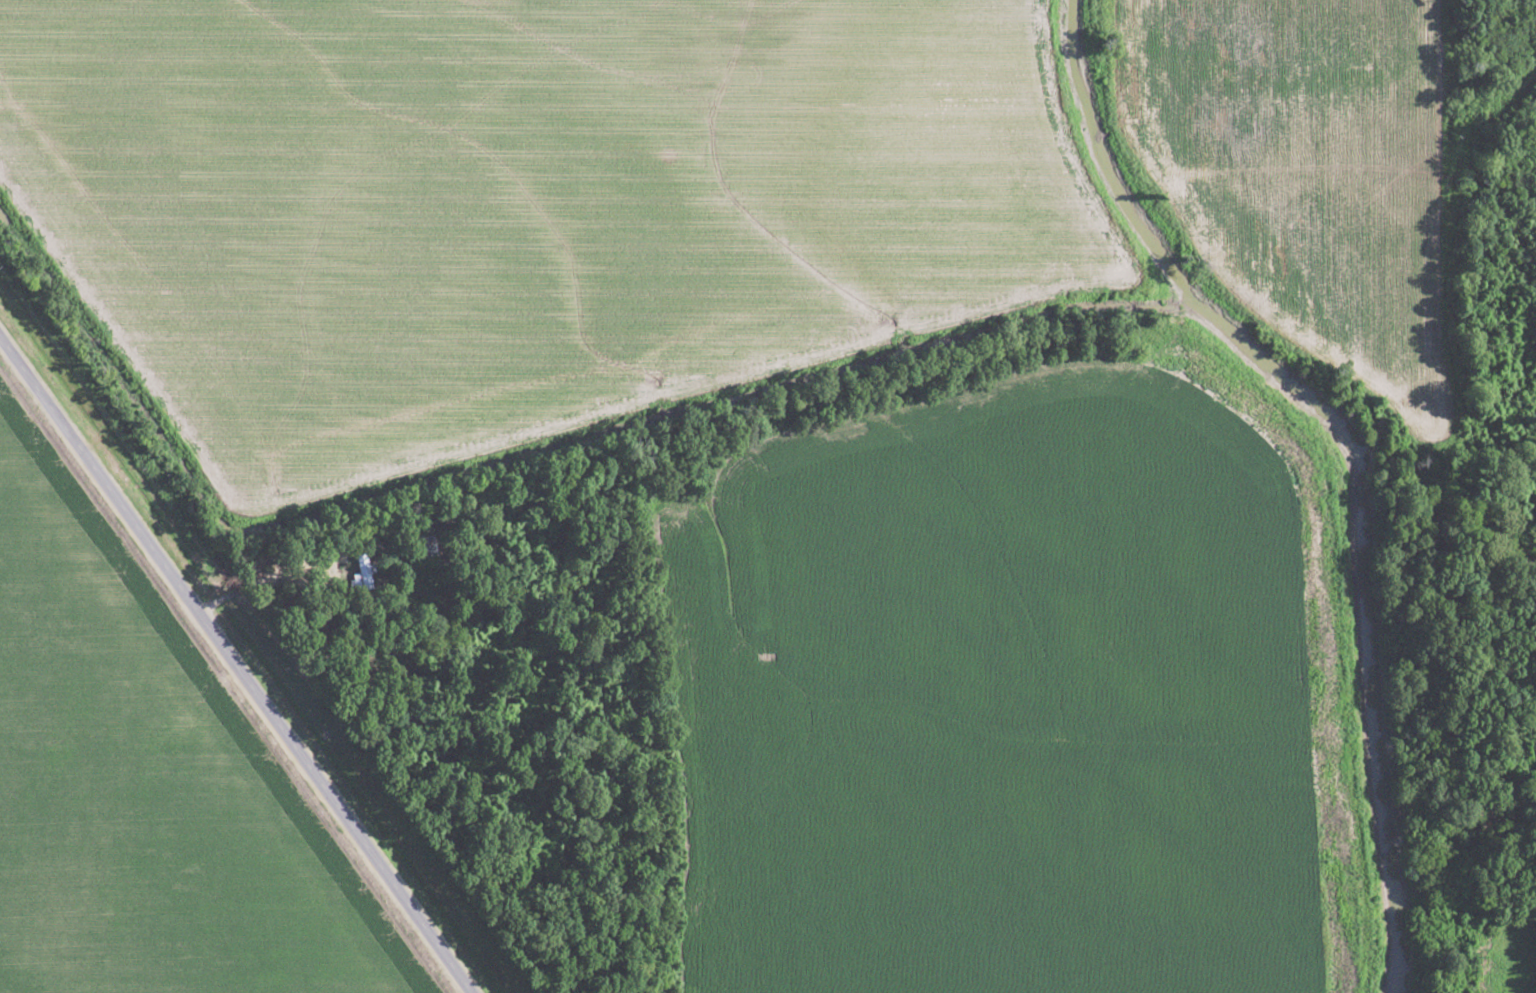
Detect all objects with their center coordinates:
road: (1157, 153)
building: (430, 544)
building: (363, 572)
road: (235, 666)

